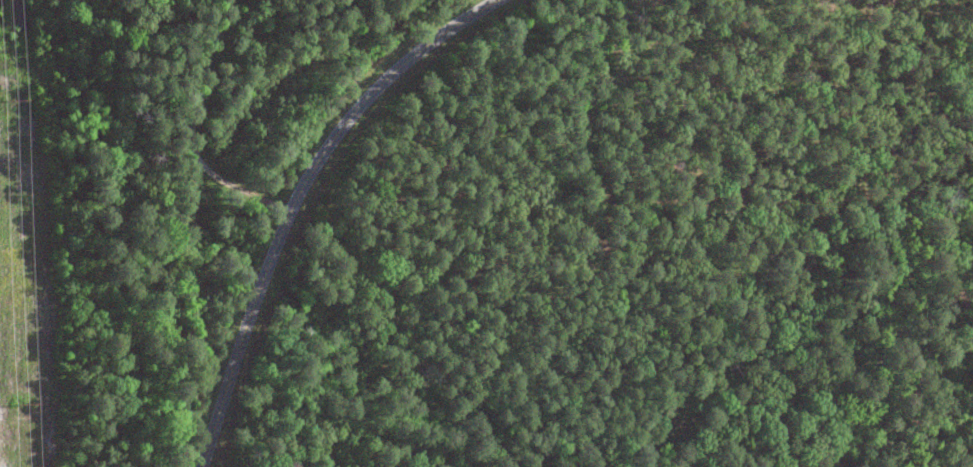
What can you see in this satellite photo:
power tower: (19, 100)
road: (183, 122)
road: (214, 167)
power tower: (26, 404)

